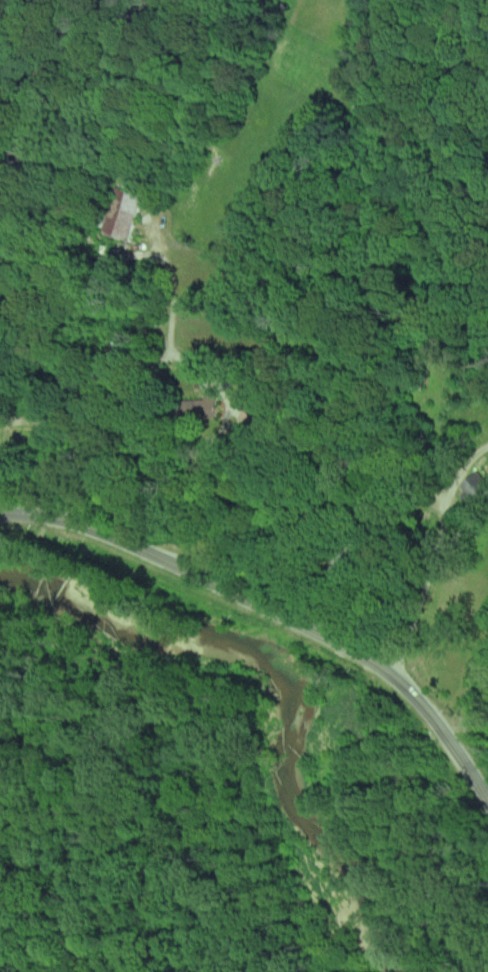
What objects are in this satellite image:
building: (121, 213)
road: (208, 490)
road: (452, 494)
road: (462, 529)
road: (386, 584)
road: (415, 610)
road: (274, 611)
river: (304, 692)

